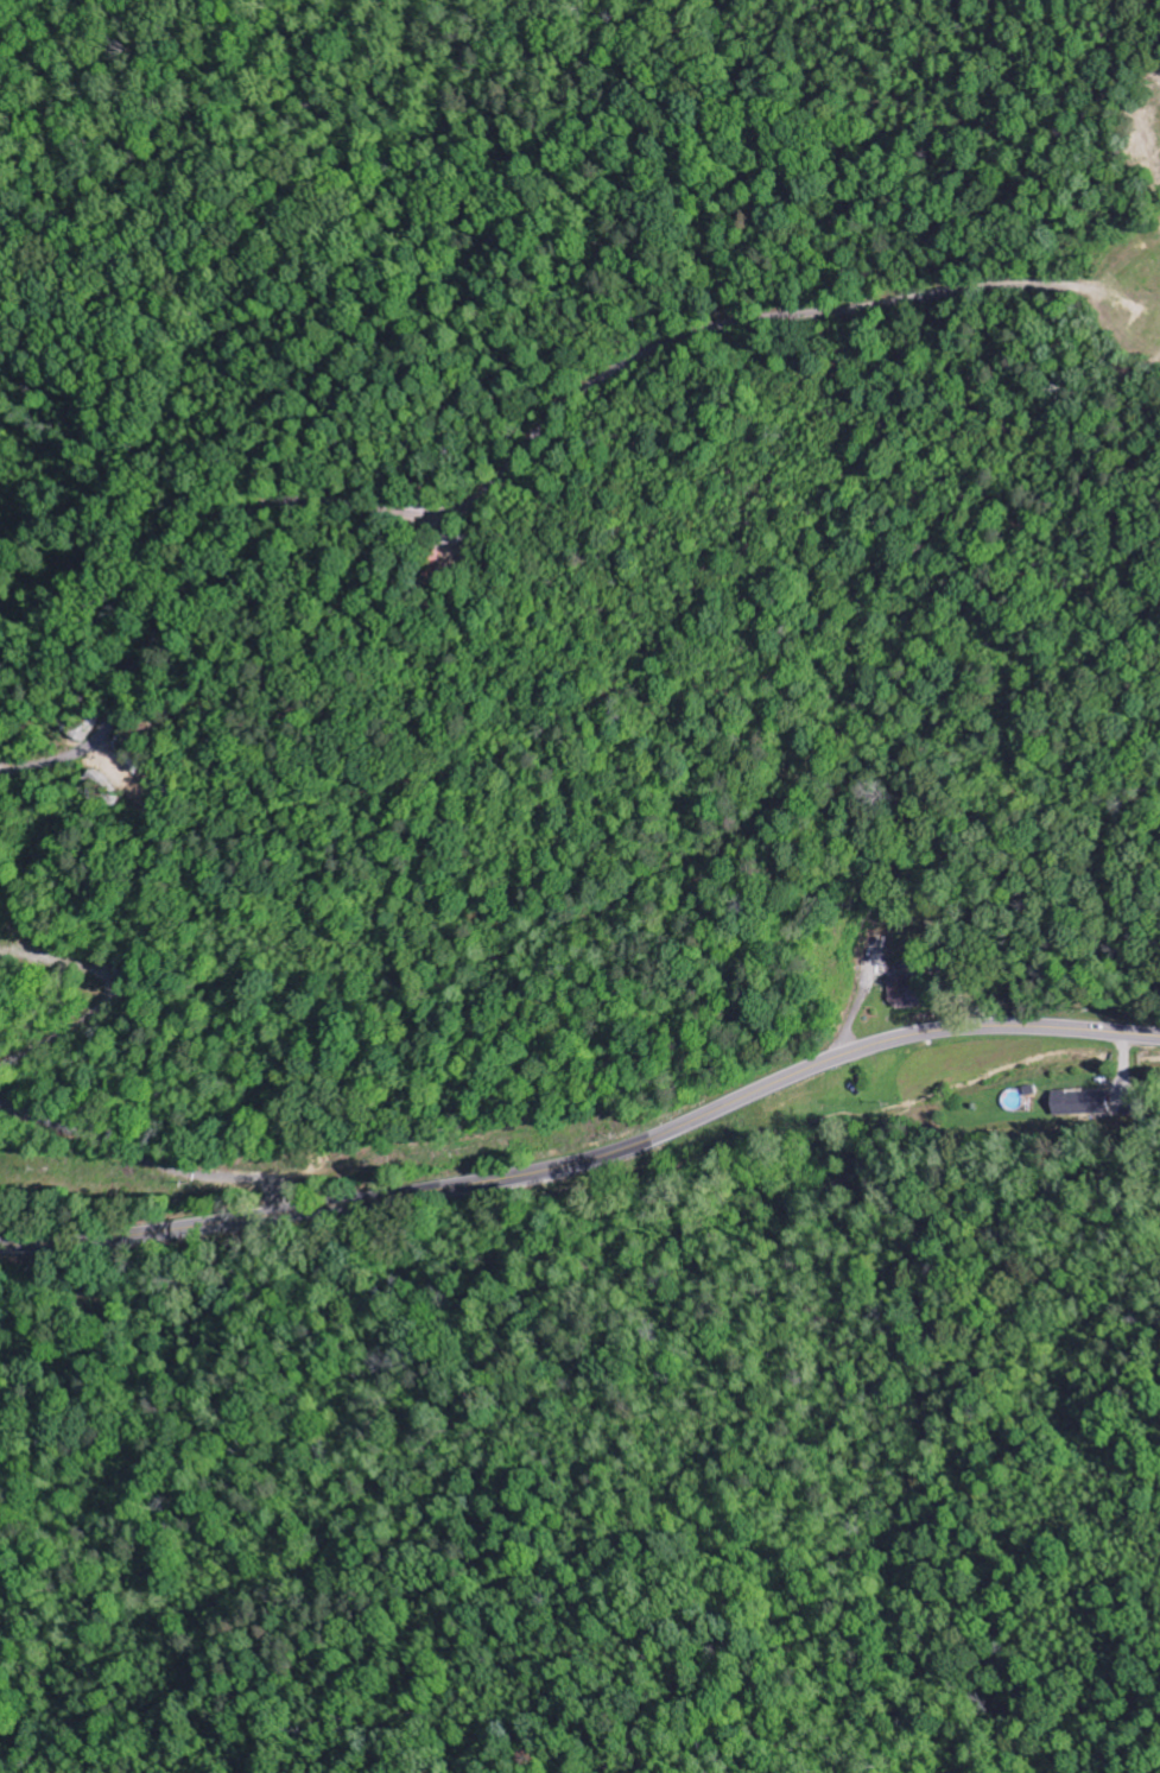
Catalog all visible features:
building: (905, 993)
building: (1082, 1106)
road: (589, 1160)

